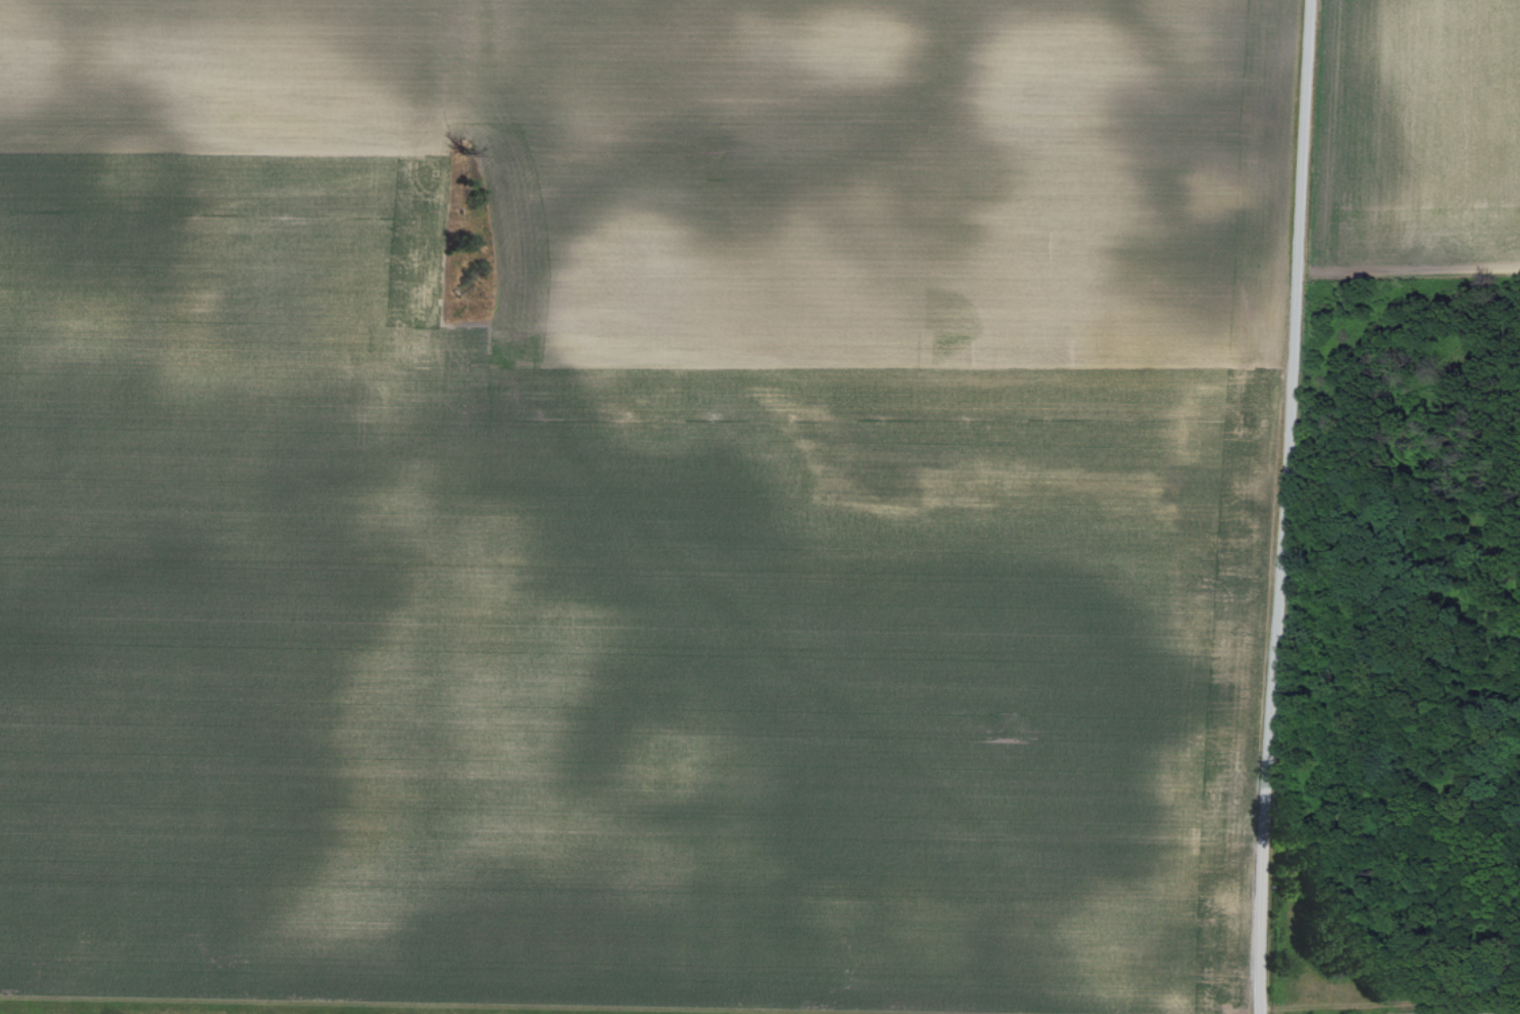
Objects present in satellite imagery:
road: (1285, 507)

